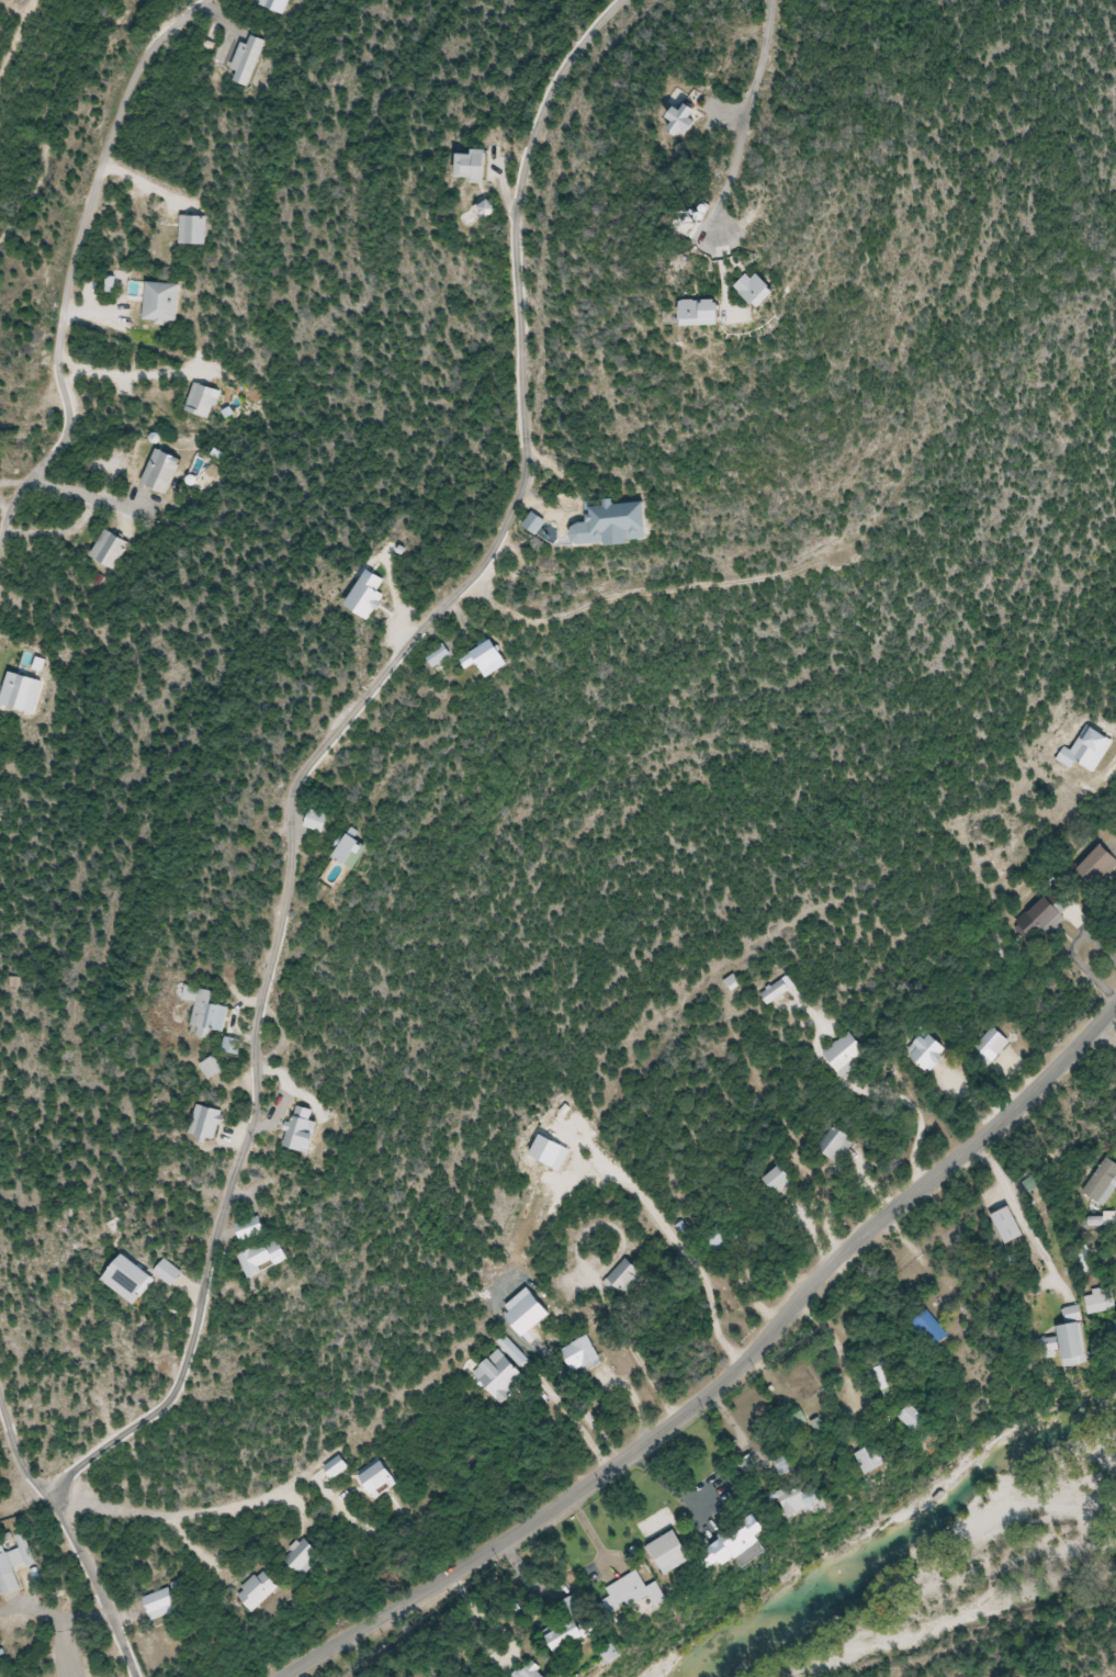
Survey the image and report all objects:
building: (248, 61)
road: (749, 120)
building: (687, 121)
building: (473, 166)
building: (487, 209)
building: (192, 230)
road: (74, 259)
building: (768, 291)
building: (162, 303)
building: (710, 314)
building: (203, 401)
building: (161, 471)
building: (538, 524)
building: (620, 525)
building: (109, 549)
building: (441, 655)
building: (491, 657)
road: (325, 745)
building: (320, 822)
building: (356, 851)
building: (1100, 868)
building: (1045, 915)
building: (777, 992)
building: (208, 1011)
building: (993, 1045)
building: (928, 1050)
building: (848, 1054)
building: (214, 1067)
building: (208, 1123)
building: (306, 1129)
building: (836, 1143)
building: (781, 1180)
building: (1103, 1182)
building: (1012, 1225)
building: (269, 1257)
building: (170, 1273)
building: (624, 1279)
building: (133, 1280)
building: (931, 1331)
building: (1078, 1337)
building: (583, 1353)
building: (501, 1376)
road: (730, 1380)
building: (922, 1417)
building: (883, 1459)
building: (338, 1466)
building: (380, 1476)
building: (811, 1497)
road: (71, 1538)
building: (755, 1540)
river: (909, 1542)
building: (679, 1552)
building: (306, 1556)
building: (16, 1569)
building: (260, 1590)
building: (644, 1594)
building: (162, 1603)
road: (54, 1616)
building: (574, 1636)
road: (67, 1647)
building: (550, 1674)

